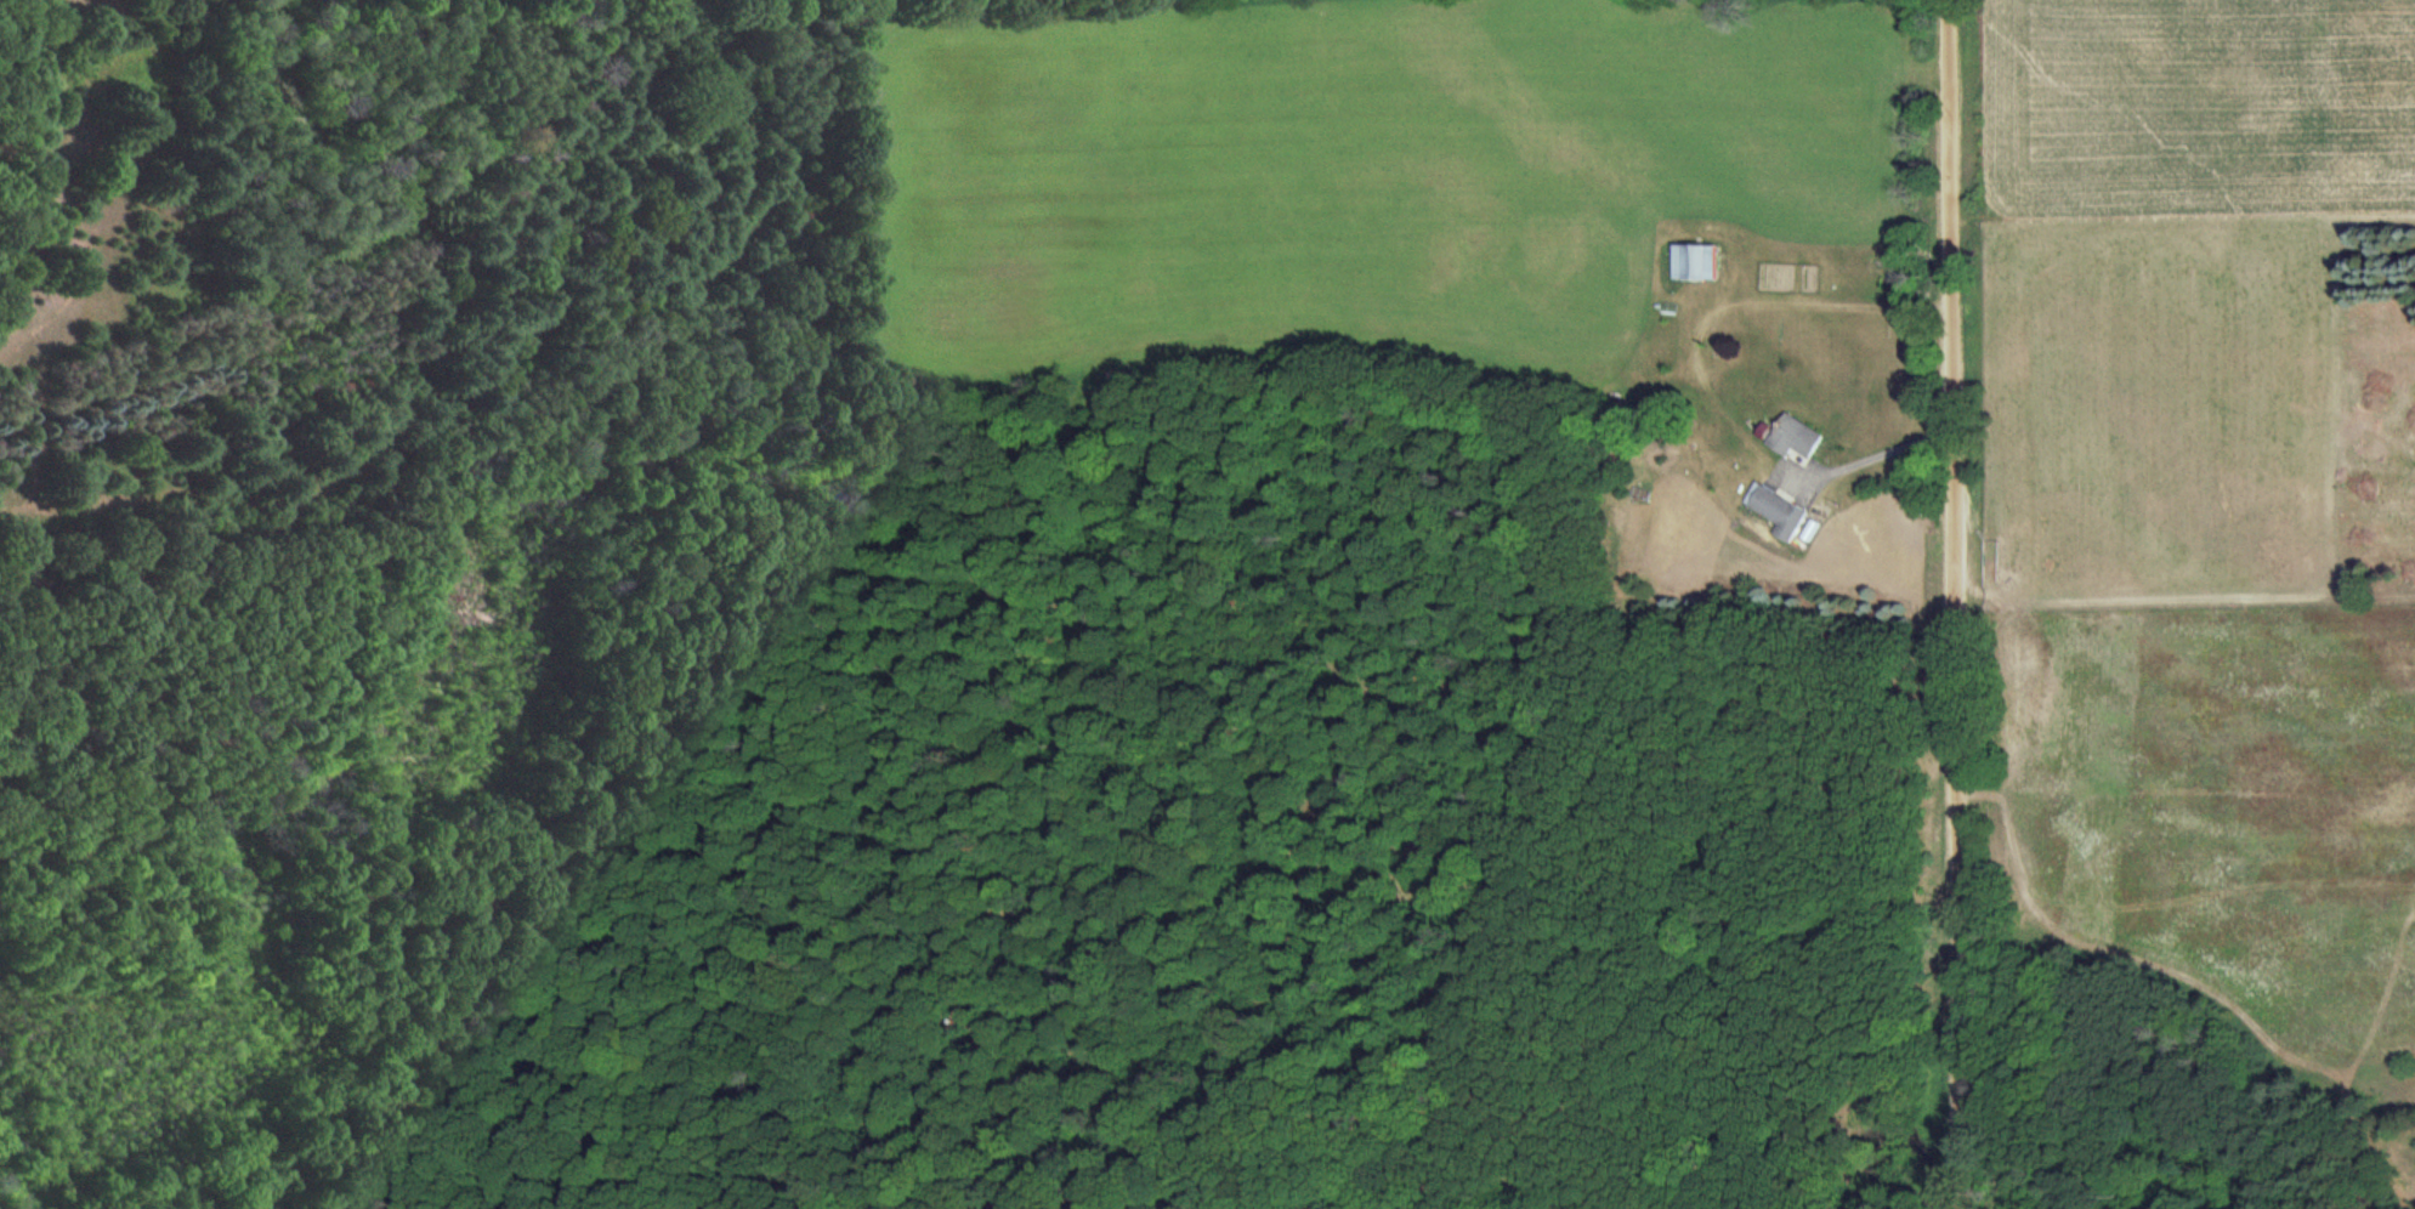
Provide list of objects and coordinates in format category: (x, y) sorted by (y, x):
building: (1693, 262)
building: (1792, 438)
building: (1776, 513)
road: (1956, 604)

